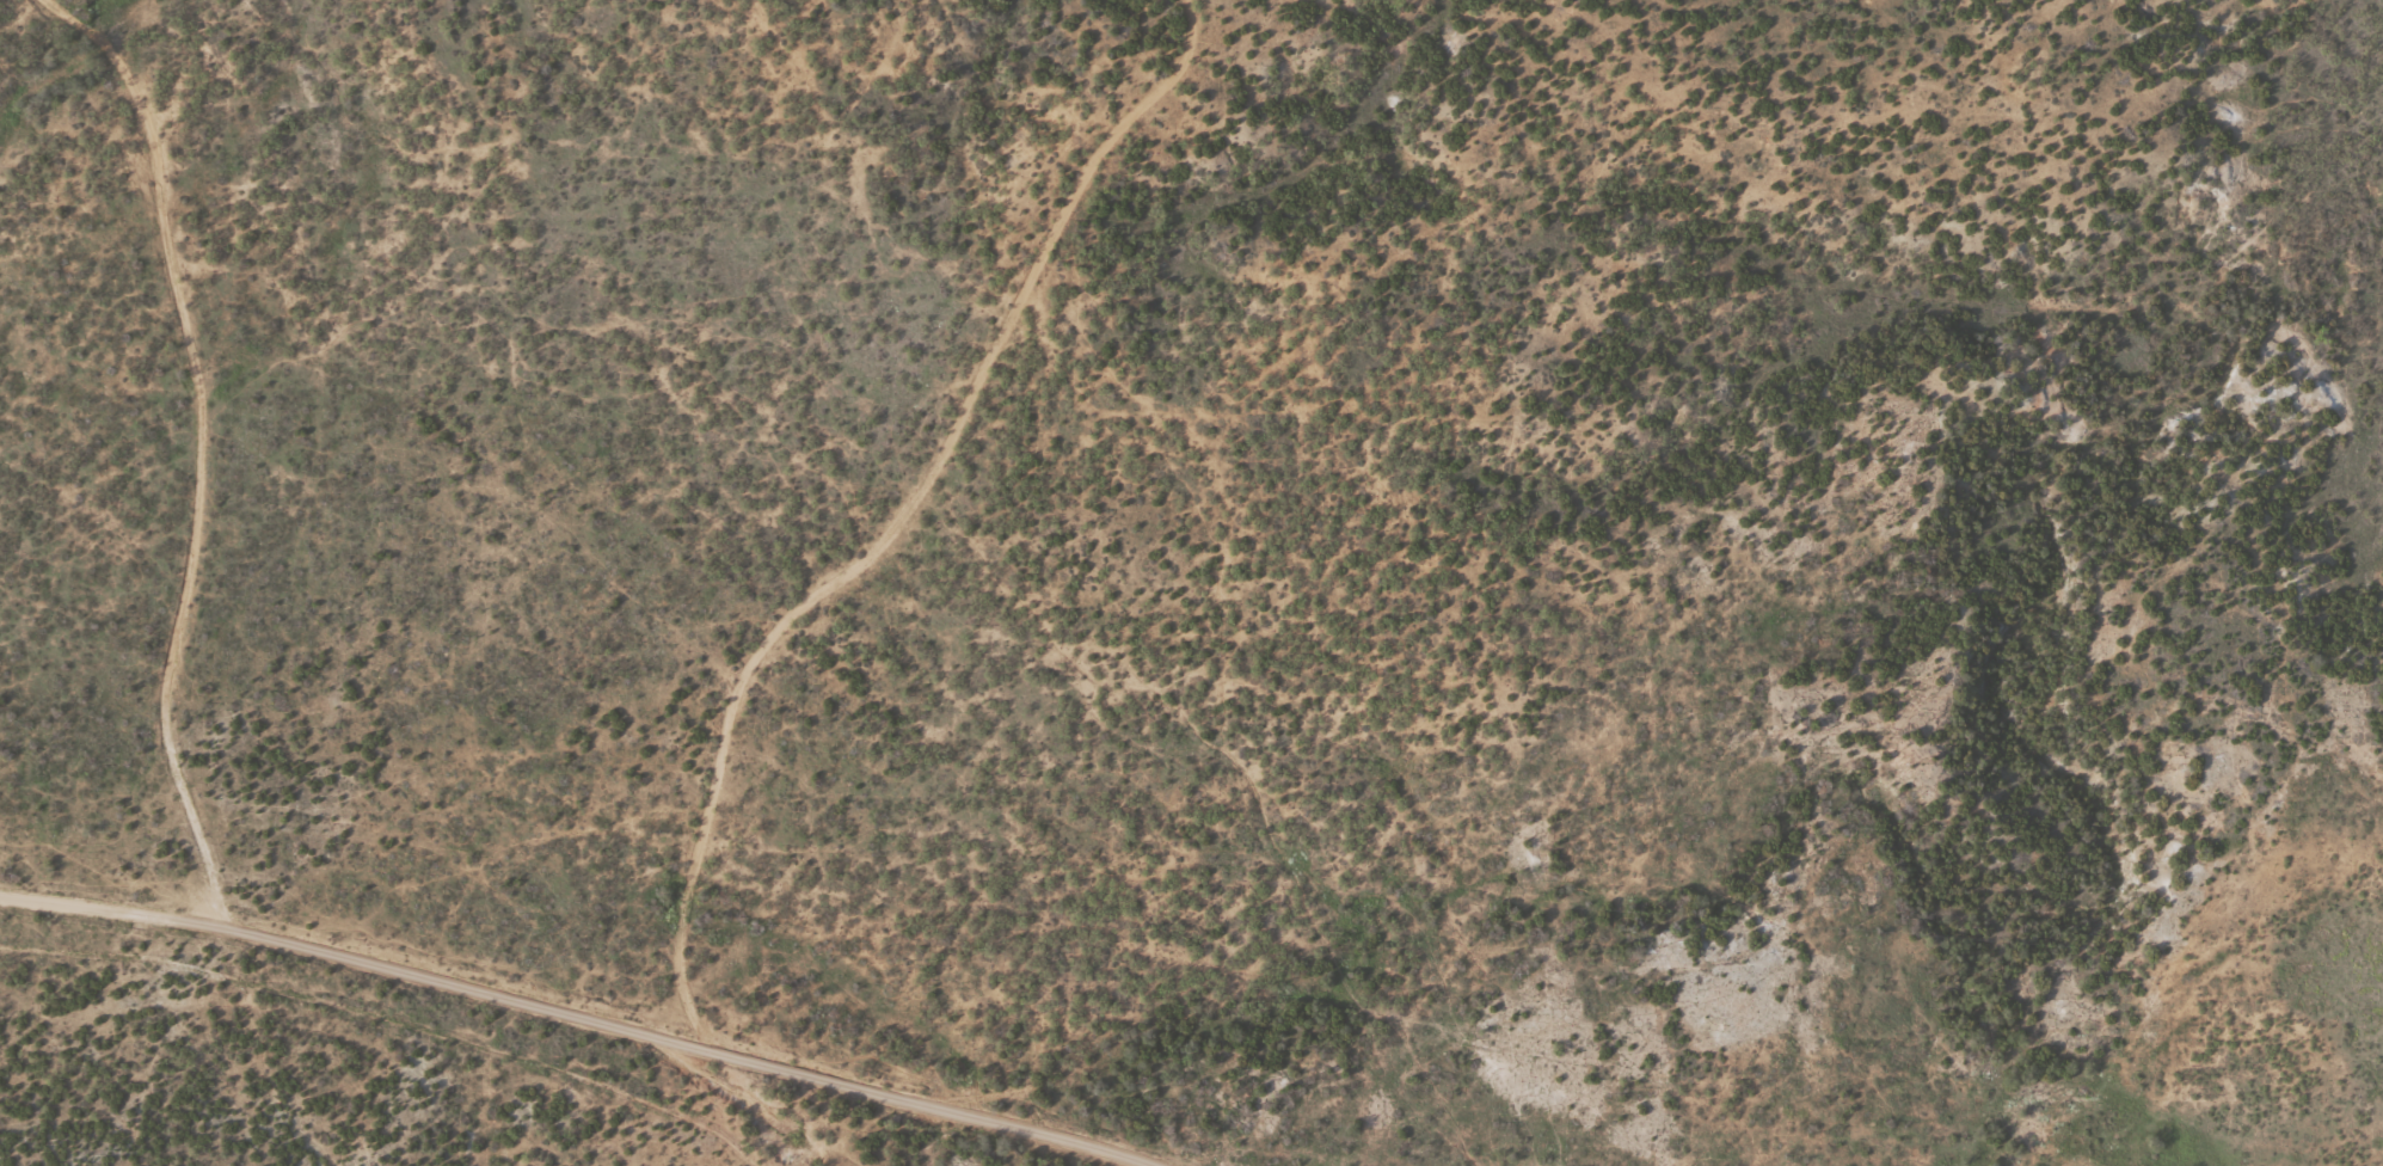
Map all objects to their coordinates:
road: (166, 447)
road: (847, 483)
road: (583, 1015)

